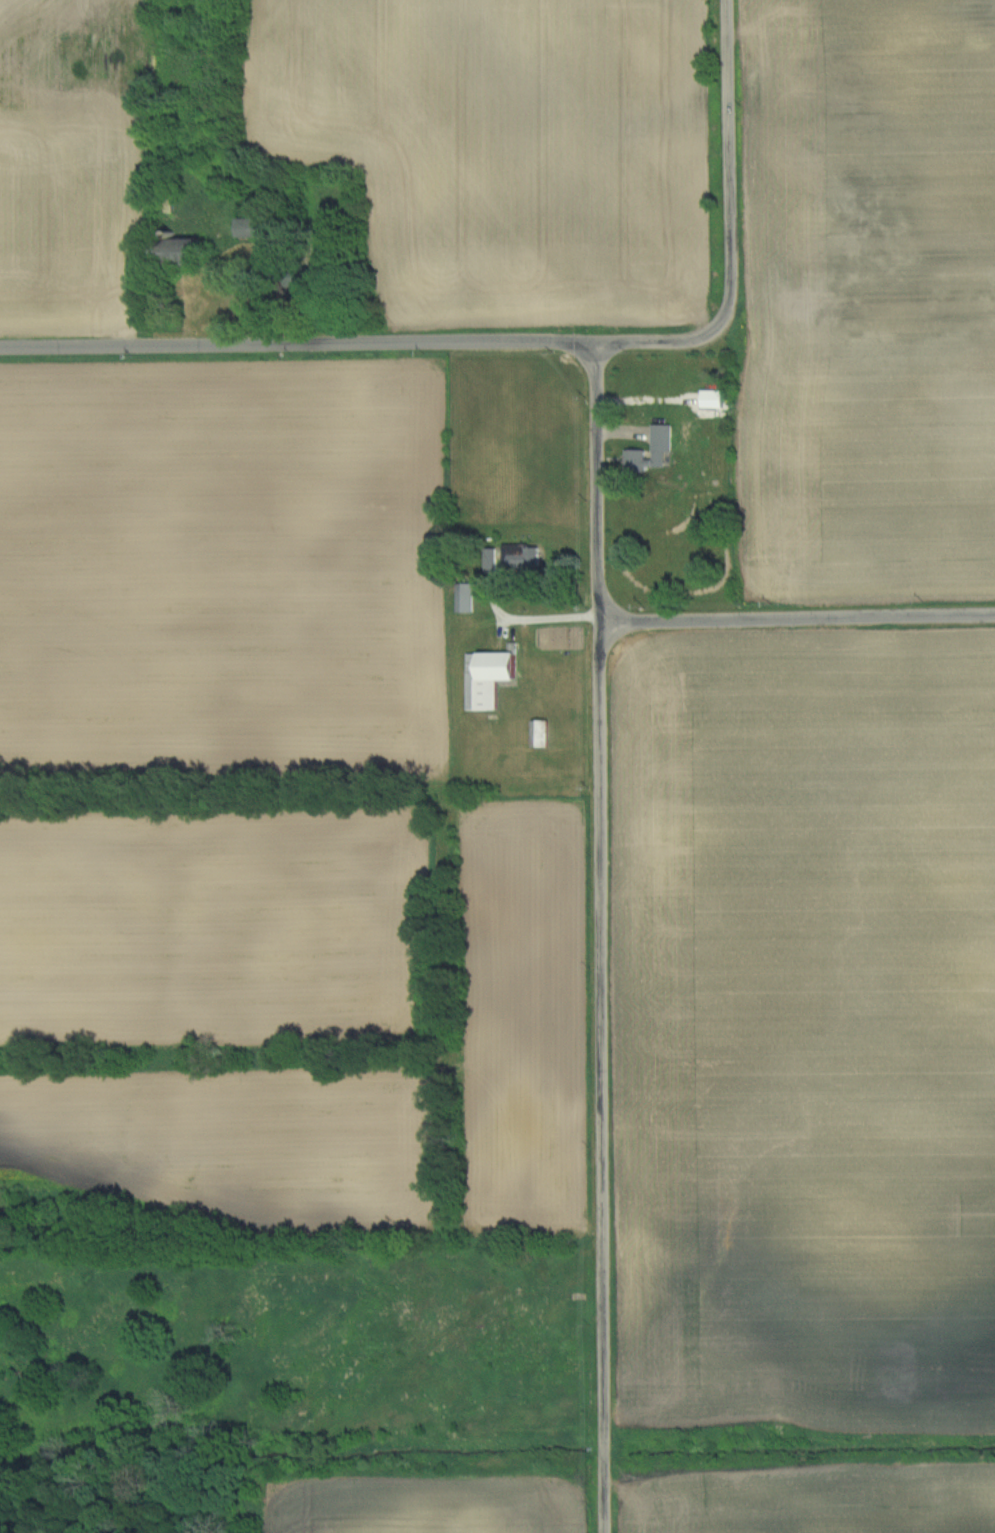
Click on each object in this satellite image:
road: (734, 228)
building: (247, 229)
building: (181, 252)
road: (298, 345)
building: (661, 438)
building: (523, 555)
building: (465, 597)
road: (797, 619)
building: (489, 677)
building: (540, 733)
road: (602, 938)

